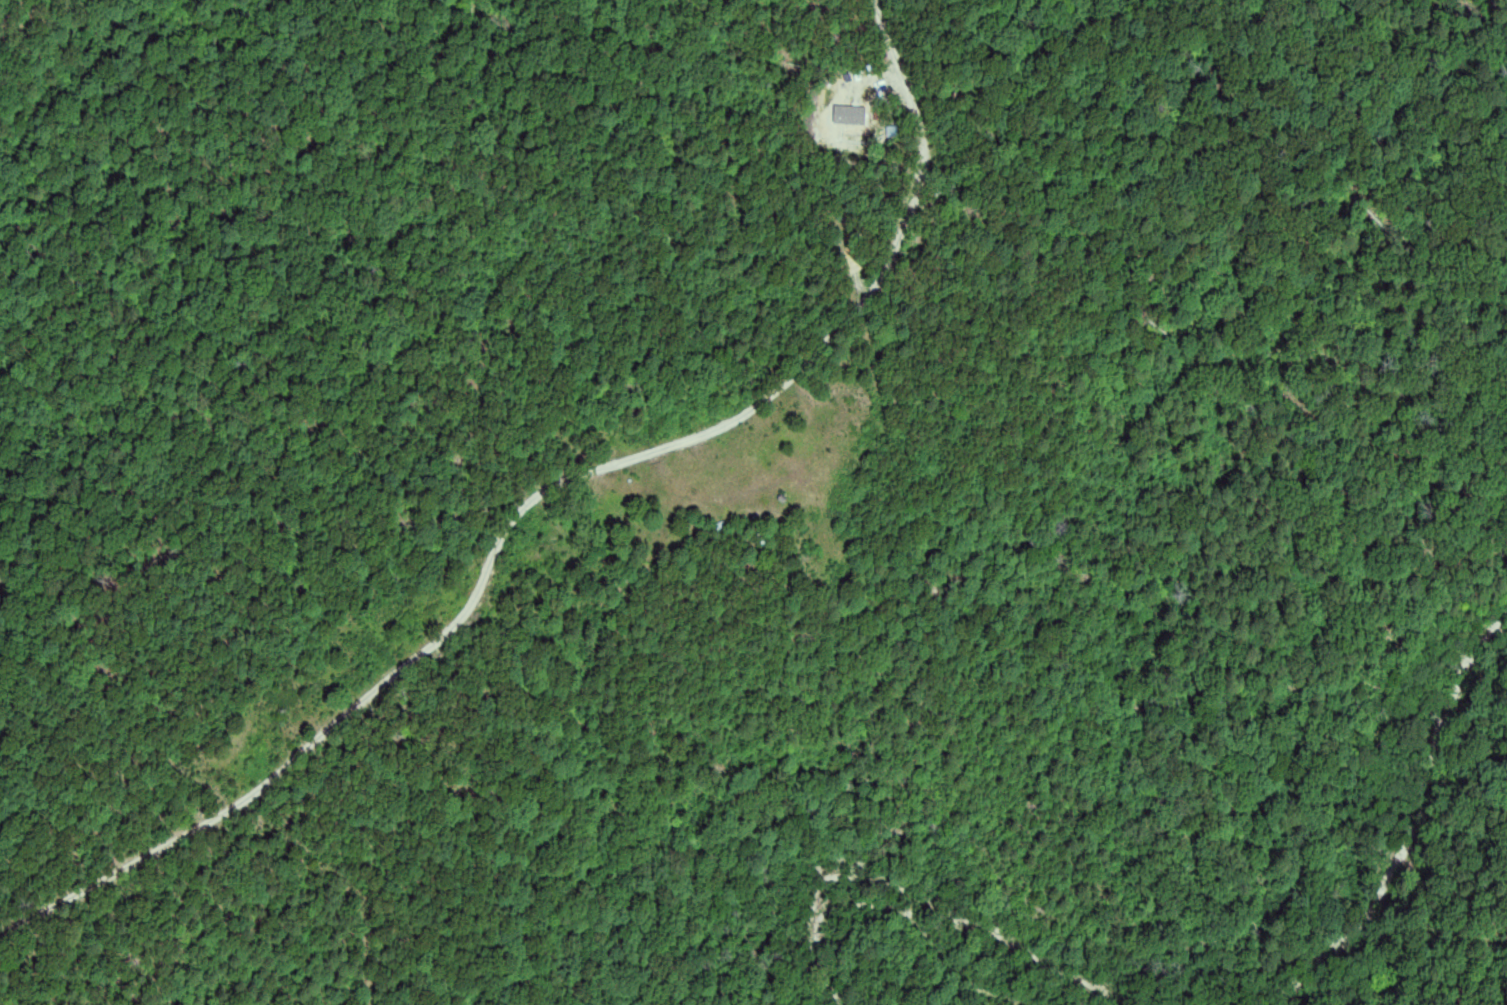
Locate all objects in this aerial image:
road: (543, 495)

